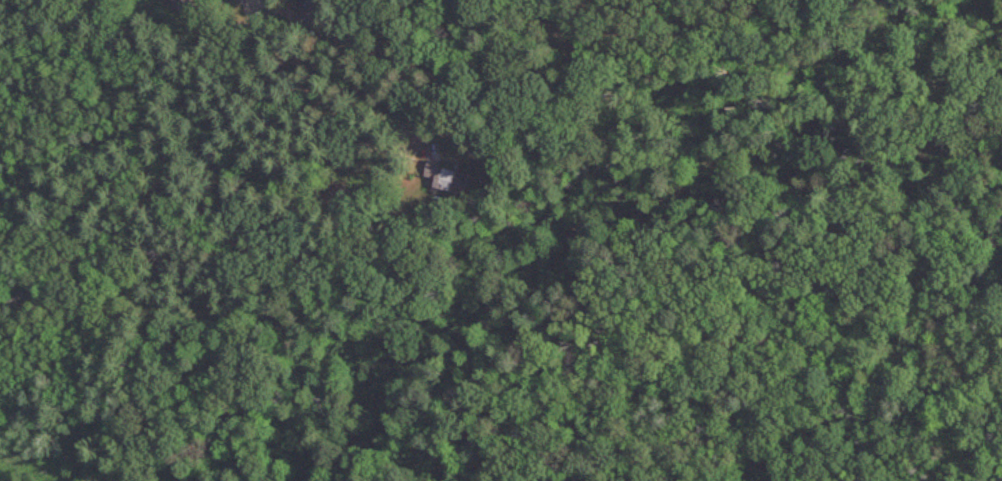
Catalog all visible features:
building: (178, 1)
road: (351, 57)
building: (448, 178)

